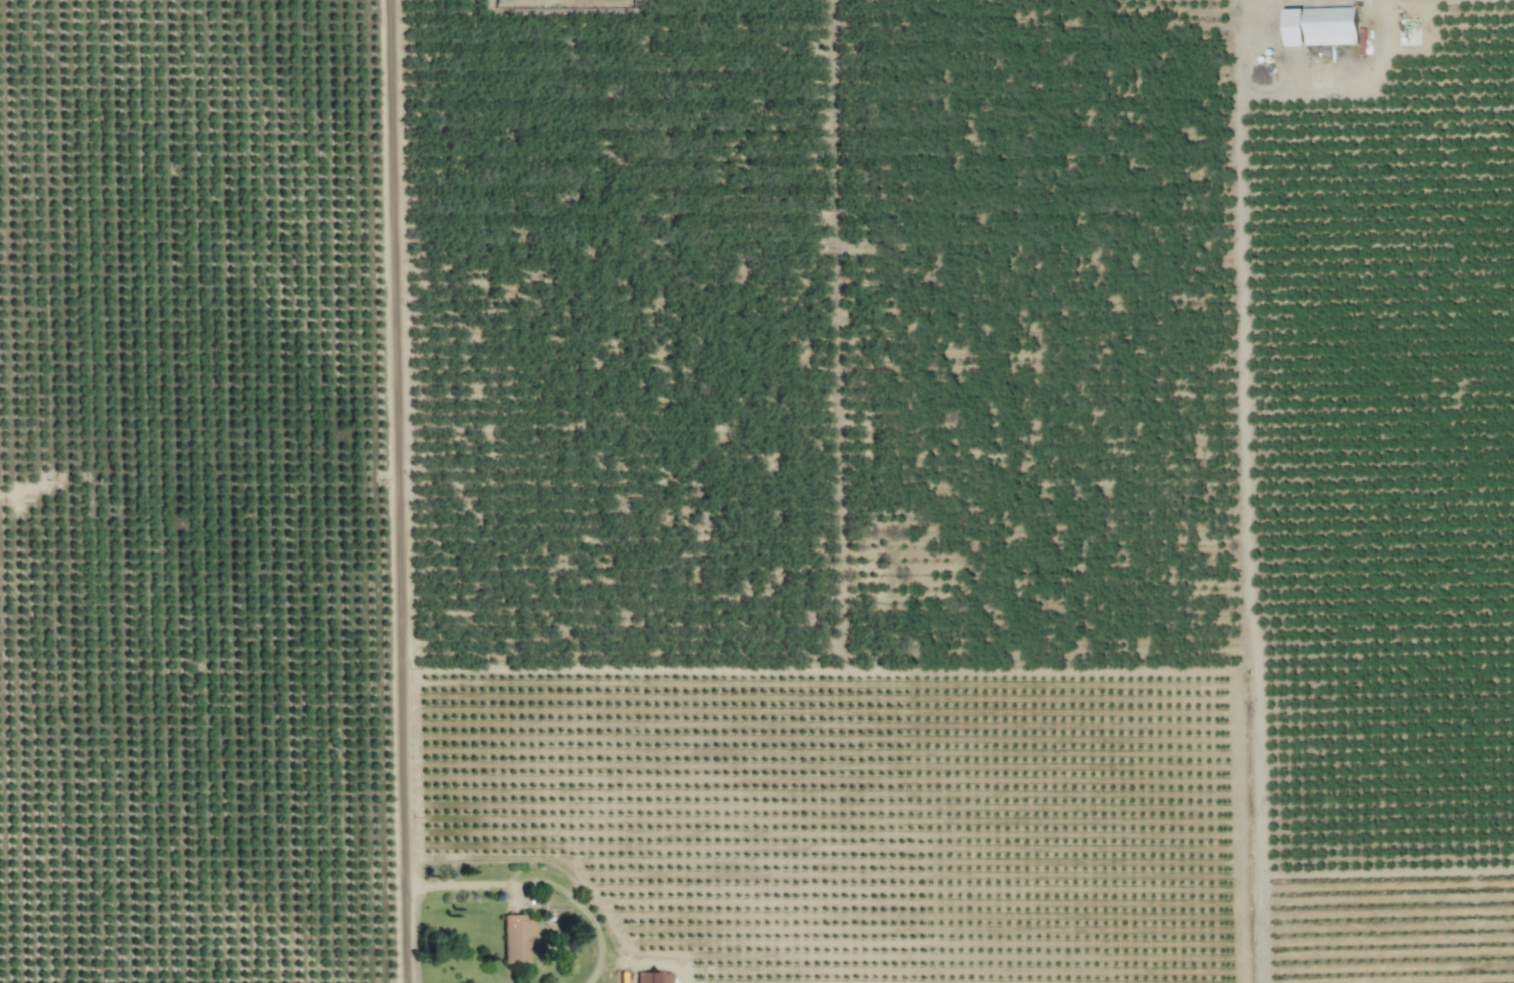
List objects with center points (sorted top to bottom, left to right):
building: (1321, 26)
road: (401, 491)
road: (1245, 491)
road: (539, 886)
building: (517, 937)
building: (653, 977)

